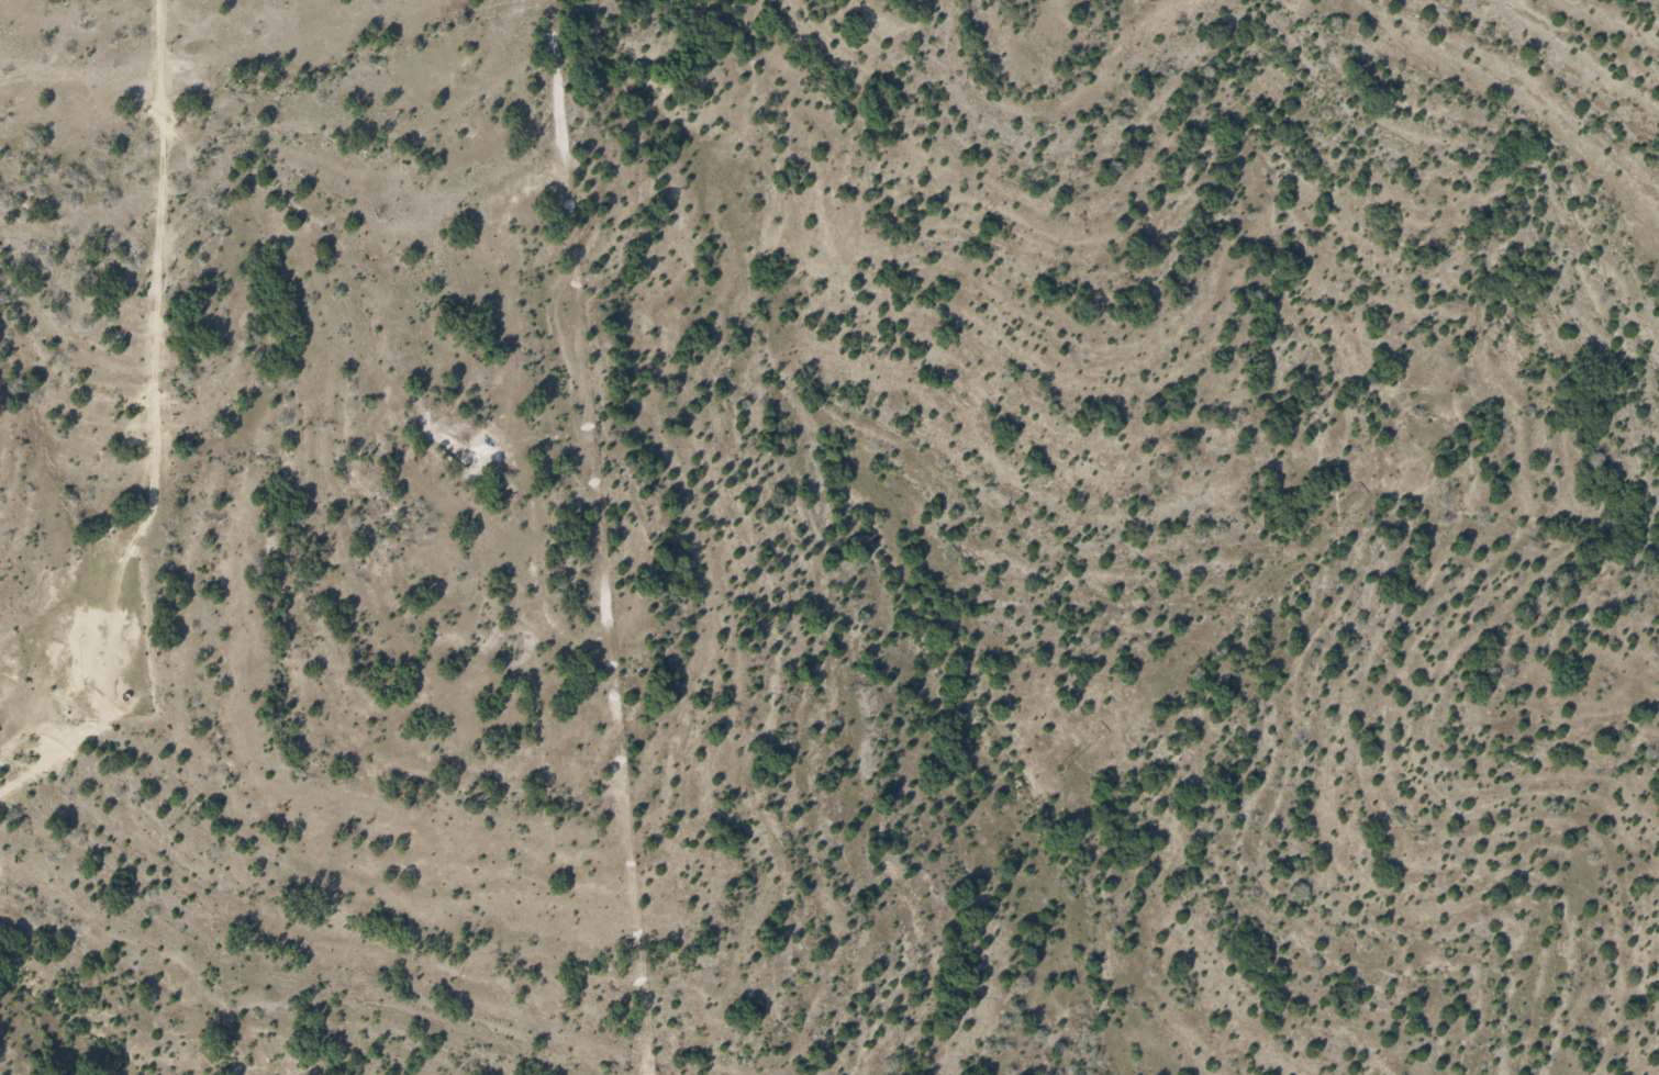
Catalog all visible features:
road: (146, 320)
power tower: (1324, 526)
road: (83, 734)
power tower: (1057, 768)
power tower: (747, 1030)

